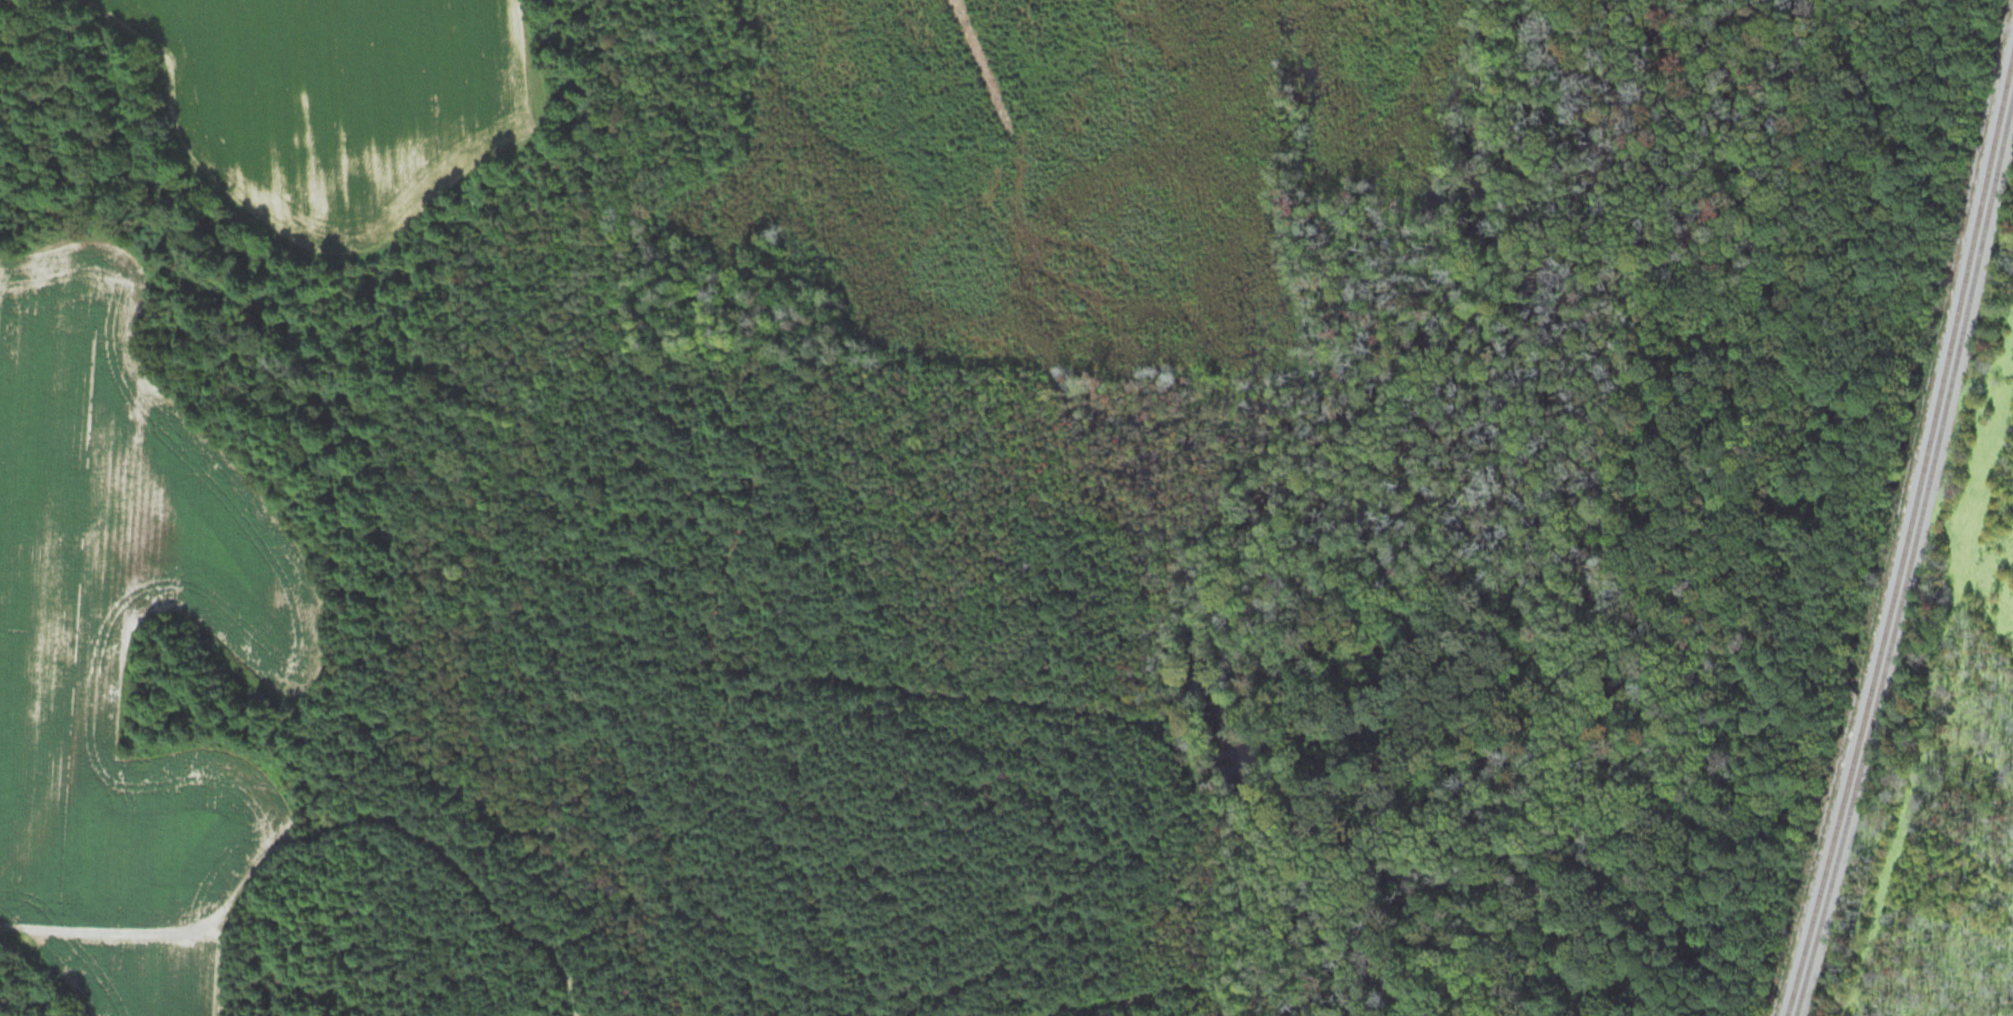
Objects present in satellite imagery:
railway: (1908, 539)
railway: (1912, 561)

